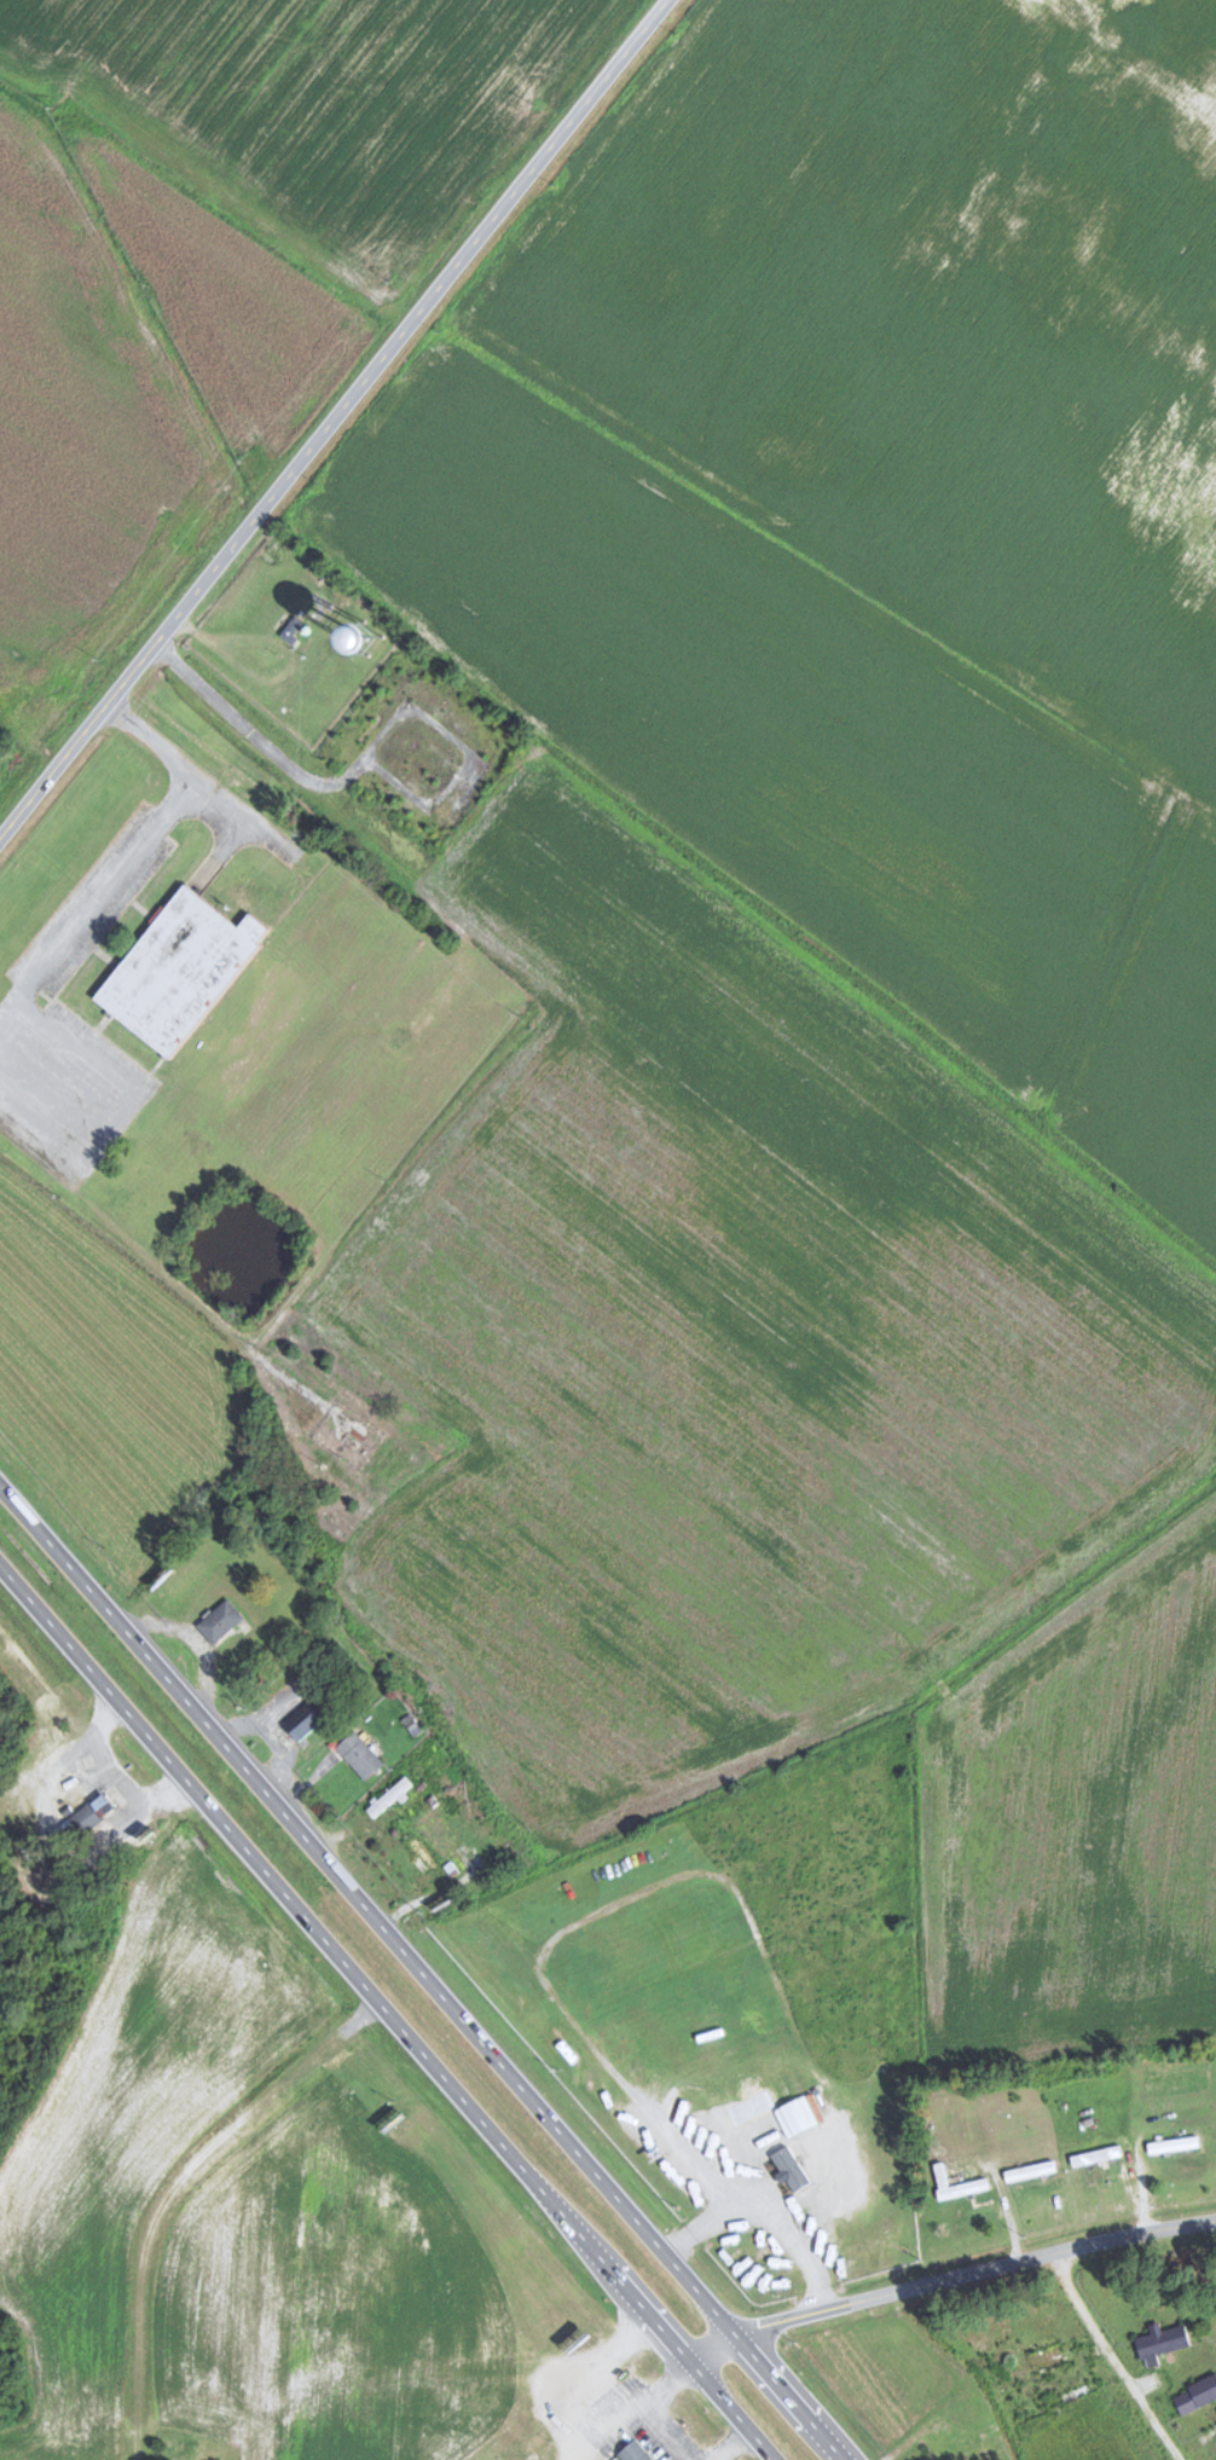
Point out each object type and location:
road: (335, 418)
building: (291, 630)
building: (183, 968)
building: (220, 1620)
building: (306, 1718)
building: (361, 1755)
building: (389, 1795)
building: (446, 1807)
building: (93, 1813)
building: (18, 1819)
building: (423, 1853)
road: (423, 1970)
road: (388, 2010)
building: (1172, 2144)
building: (1096, 2155)
building: (791, 2169)
building: (1030, 2171)
building: (975, 2183)
road: (974, 2270)
road: (1170, 2297)
road: (708, 2342)
building: (1162, 2342)
building: (1046, 2358)
road: (342, 2397)
building: (1186, 2402)
building: (933, 2447)
building: (635, 2452)

